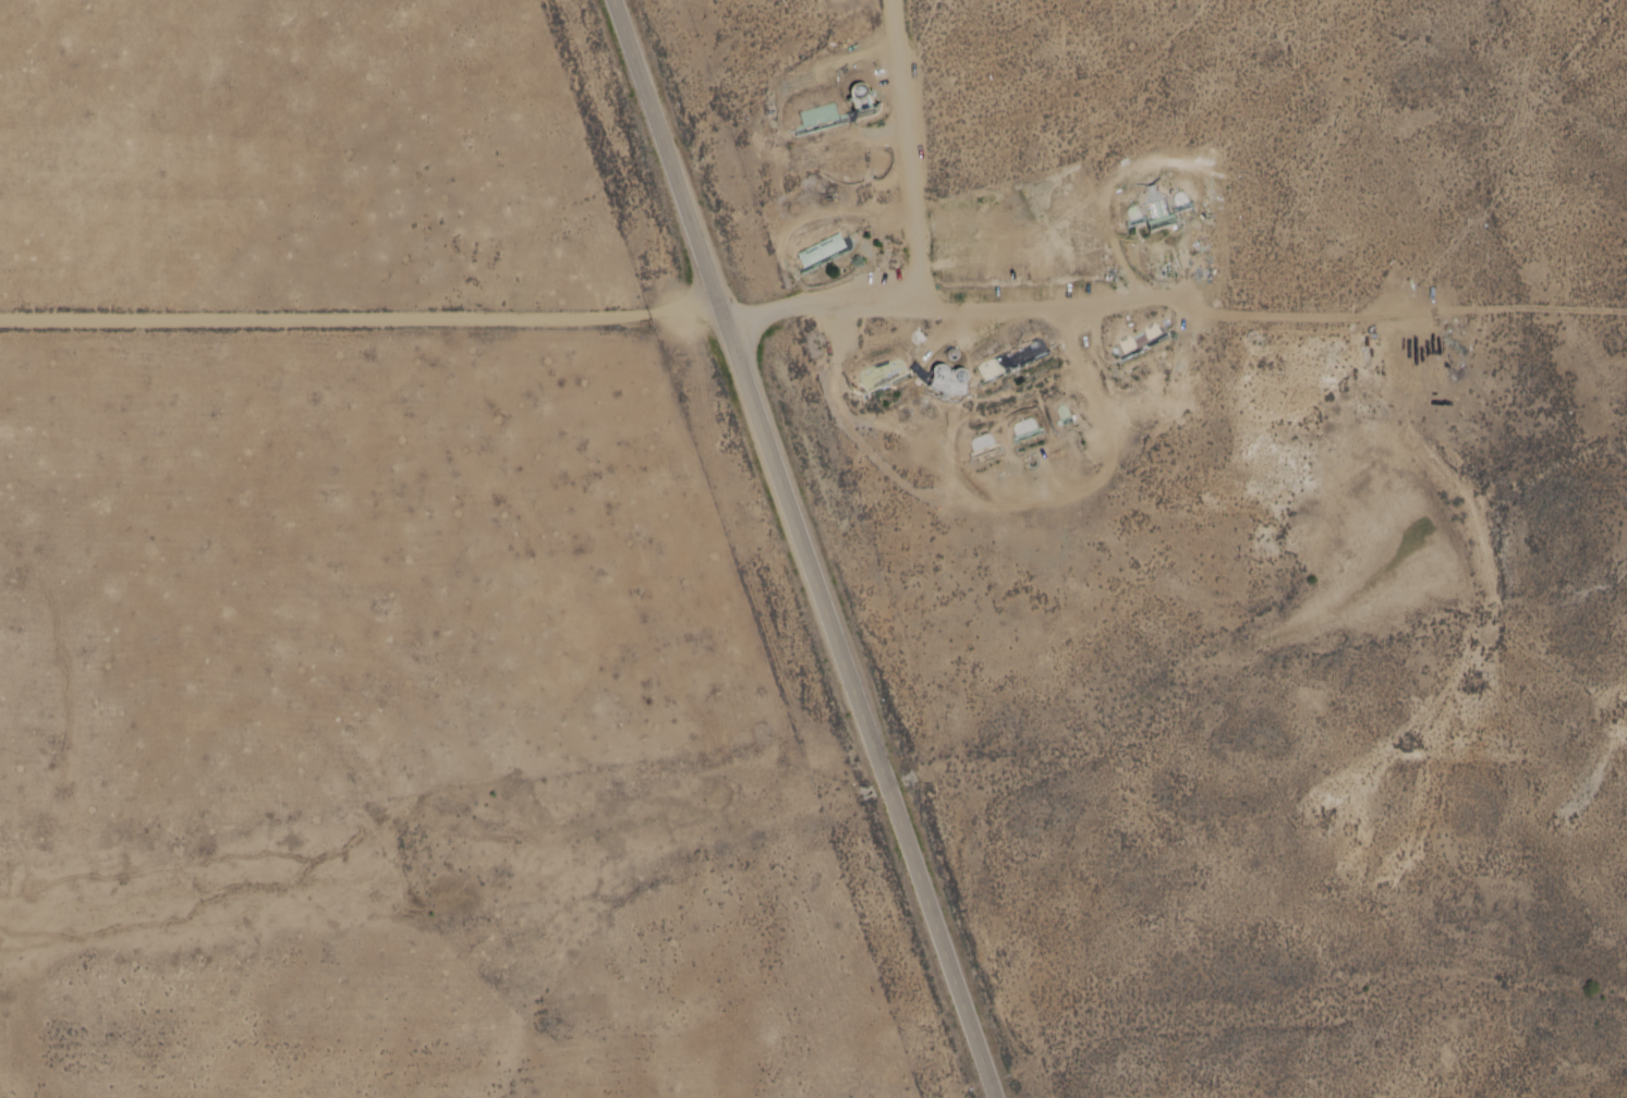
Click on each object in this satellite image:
building: (857, 99)
building: (822, 118)
road: (908, 149)
building: (1136, 213)
road: (858, 218)
road: (883, 225)
building: (822, 249)
road: (1074, 301)
road: (1090, 329)
building: (1137, 333)
road: (978, 338)
building: (1010, 355)
building: (875, 375)
building: (950, 379)
road: (828, 389)
road: (1112, 412)
building: (1025, 428)
building: (982, 441)
road: (817, 547)
road: (439, 649)
road: (1260, 770)

